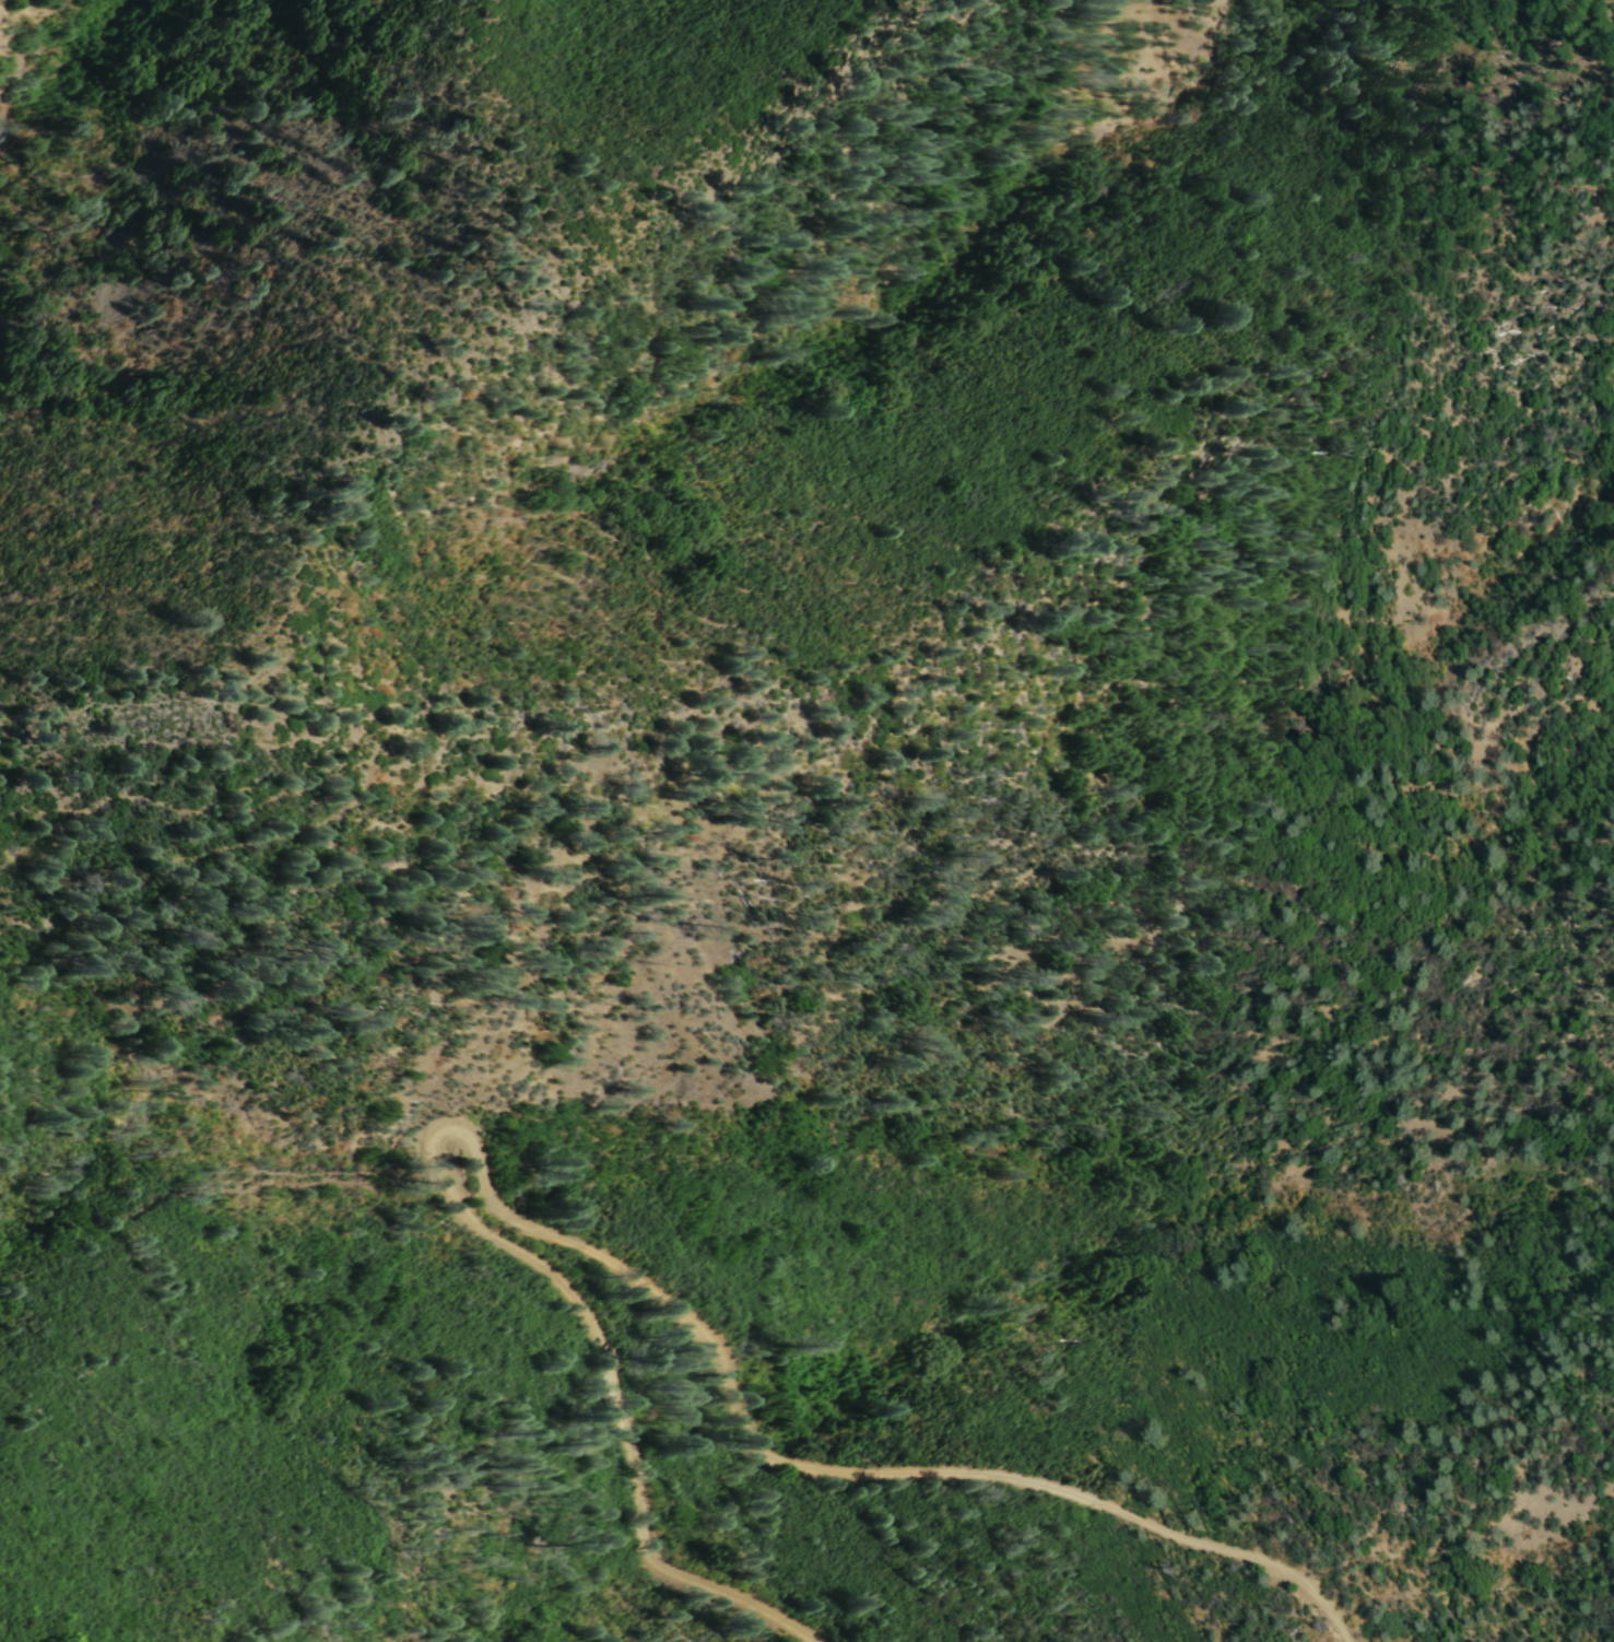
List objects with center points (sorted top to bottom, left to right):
road: (614, 1260)

